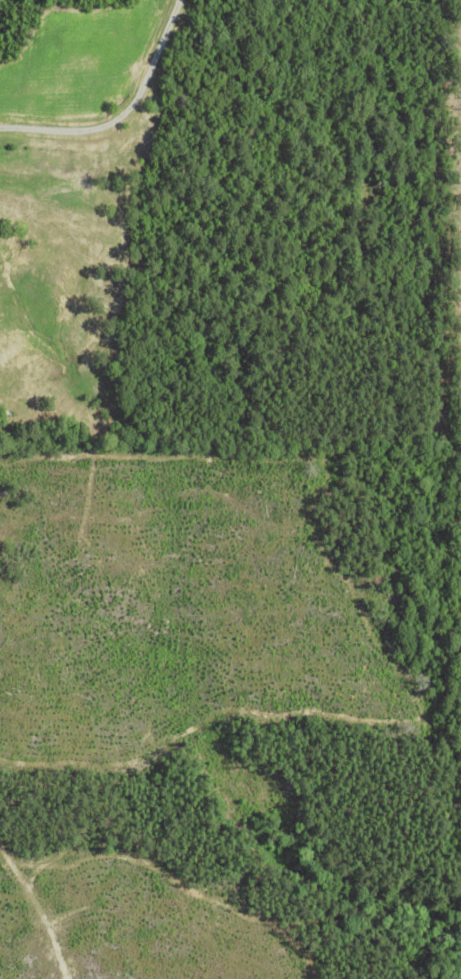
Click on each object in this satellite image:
road: (120, 113)

